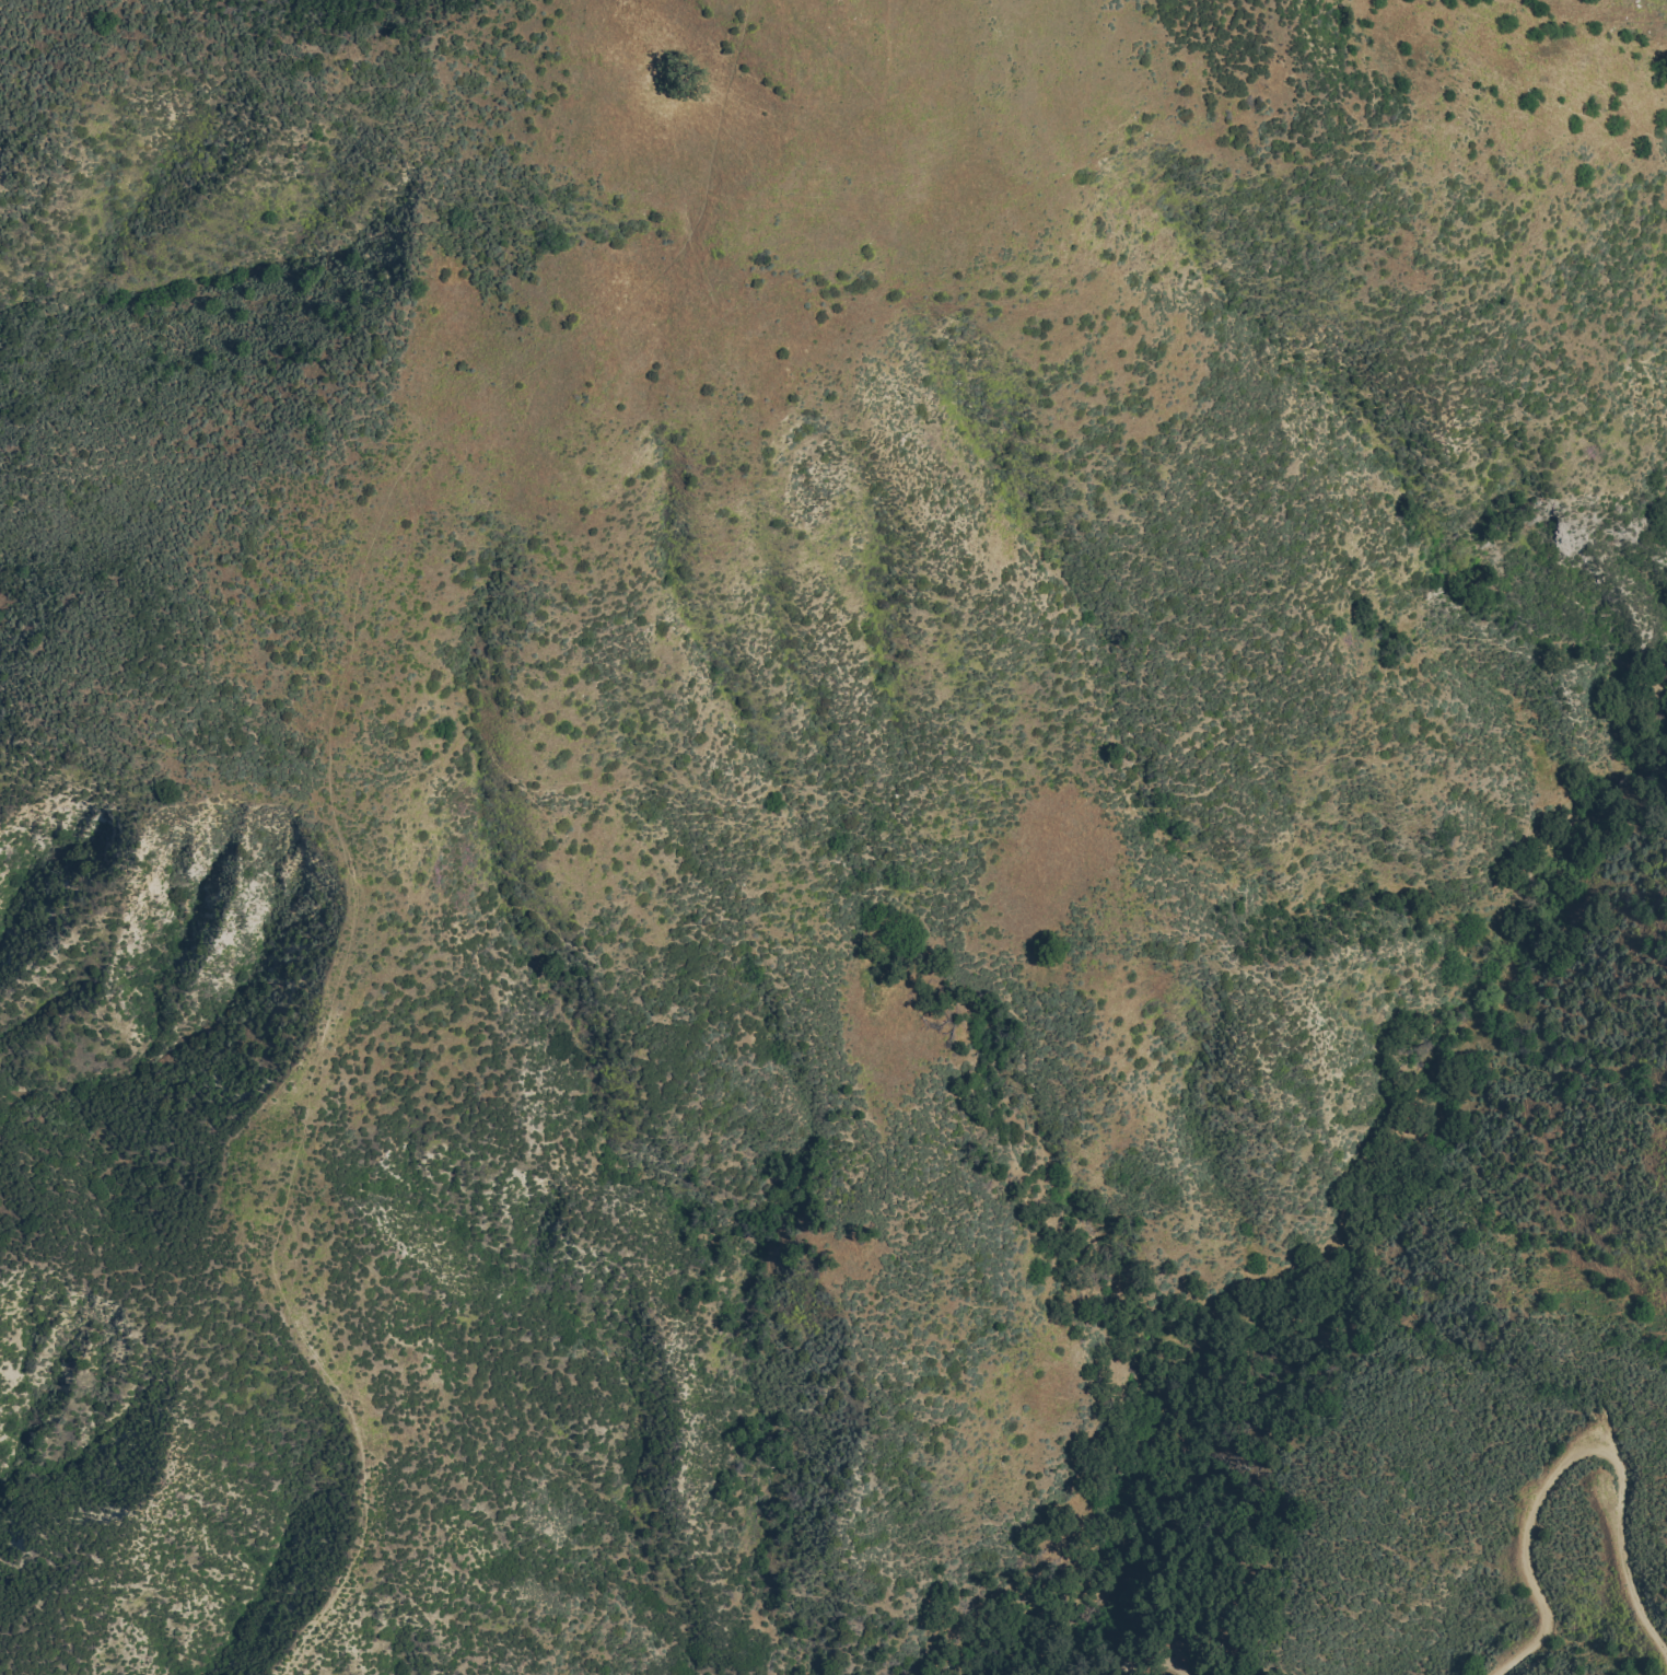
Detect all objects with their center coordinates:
road: (1575, 1456)

